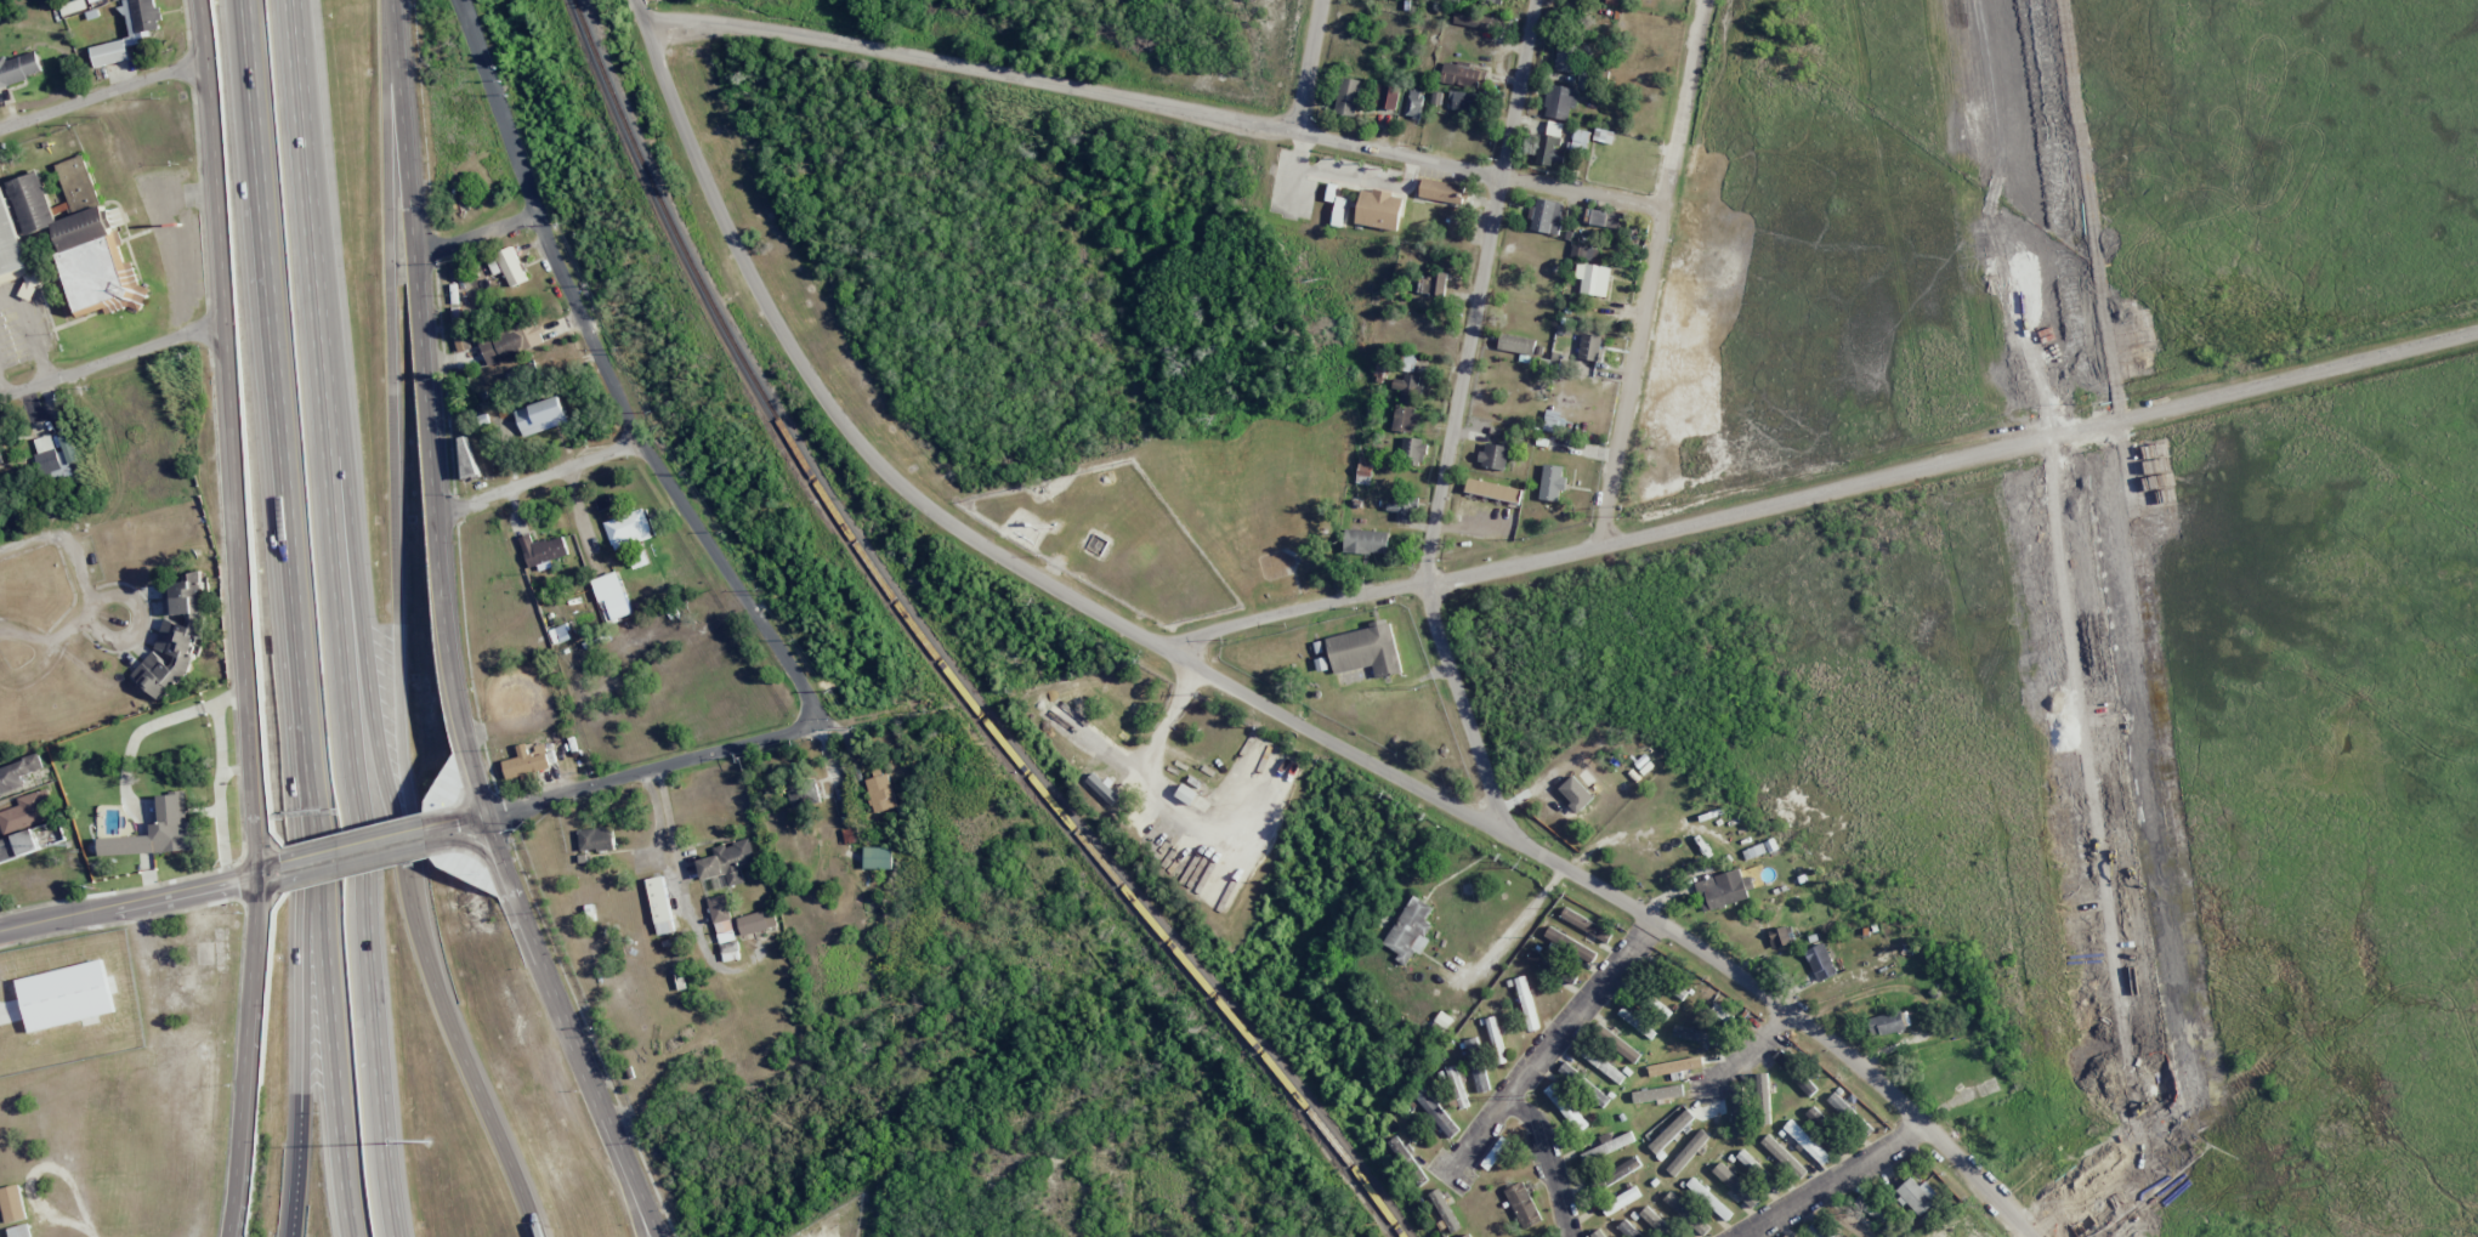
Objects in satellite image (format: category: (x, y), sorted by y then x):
building: (1495, 0)
building: (141, 16)
building: (1478, 22)
building: (109, 53)
building: (1565, 59)
road: (1308, 66)
building: (19, 68)
building: (1461, 74)
road: (103, 92)
building: (1348, 96)
building: (1387, 97)
road: (253, 101)
building: (1465, 101)
road: (1156, 102)
building: (1559, 102)
building: (1413, 103)
building: (1580, 140)
building: (1550, 143)
building: (1441, 191)
road: (308, 206)
building: (1379, 209)
building: (1338, 211)
building: (1547, 216)
building: (1603, 219)
road: (474, 237)
road: (172, 239)
building: (69, 244)
building: (1583, 252)
building: (507, 266)
road: (1650, 272)
building: (1593, 278)
power tower: (1315, 279)
building: (1431, 283)
road: (1479, 293)
road: (33, 330)
building: (461, 344)
building: (507, 344)
building: (1516, 344)
building: (1589, 346)
road: (110, 362)
building: (1408, 363)
road: (605, 376)
road: (2, 390)
building: (1406, 390)
building: (541, 416)
building: (1404, 419)
building: (1552, 420)
road: (392, 439)
building: (1413, 449)
building: (1493, 455)
building: (56, 456)
building: (0, 460)
road: (535, 476)
building: (1550, 482)
road: (285, 490)
building: (1492, 490)
road: (1819, 490)
road: (102, 494)
building: (603, 504)
park: (1261, 504)
building: (628, 529)
building: (1366, 540)
building: (543, 550)
road: (242, 613)
building: (176, 636)
road: (448, 637)
building: (1361, 651)
railway: (930, 653)
power tower: (1425, 690)
road: (1243, 694)
road: (1464, 710)
building: (527, 764)
road: (656, 767)
building: (17, 773)
building: (880, 793)
building: (804, 794)
building: (1185, 794)
building: (25, 811)
road: (455, 818)
road: (356, 825)
building: (1146, 830)
building: (158, 832)
road: (399, 832)
building: (596, 839)
road: (314, 840)
road: (356, 842)
building: (17, 845)
road: (474, 846)
building: (878, 857)
road: (356, 862)
building: (728, 862)
road: (273, 868)
road: (268, 885)
building: (1723, 890)
road: (681, 891)
road: (130, 902)
building: (659, 906)
building: (756, 921)
building: (1586, 925)
building: (724, 927)
road: (310, 929)
building: (1410, 930)
building: (1781, 936)
building: (1569, 946)
building: (1543, 961)
building: (1820, 961)
building: (1678, 992)
building: (66, 995)
building: (1526, 1003)
building: (1660, 1010)
building: (1889, 1022)
building: (1635, 1023)
building: (1695, 1035)
building: (1495, 1039)
building: (1618, 1044)
building: (1476, 1065)
building: (1601, 1066)
building: (1674, 1066)
road: (1525, 1067)
road: (334, 1068)
building: (1794, 1073)
building: (1455, 1084)
building: (1583, 1084)
building: (1657, 1094)
road: (296, 1096)
power tower: (1532, 1097)
building: (1763, 1097)
building: (1735, 1101)
building: (1565, 1107)
building: (1436, 1112)
building: (1848, 1112)
building: (1818, 1119)
building: (1671, 1131)
building: (1805, 1142)
building: (1607, 1145)
building: (1686, 1152)
building: (1495, 1153)
building: (1782, 1156)
building: (1406, 1161)
building: (1750, 1163)
building: (1616, 1173)
road: (1830, 1181)
building: (1735, 1185)
road: (637, 1192)
building: (1915, 1195)
building: (1708, 1199)
building: (1620, 1201)
building: (13, 1203)
building: (1522, 1204)
building: (1870, 1209)
building: (1444, 1210)
building: (1685, 1213)
building: (1656, 1222)
building: (1850, 1225)
building: (1627, 1230)
building: (21, 1231)
building: (1818, 1231)
road: (231, 1232)
road: (232, 1232)
building: (1469, 1236)
building: (1604, 1236)
building: (1785, 1236)

